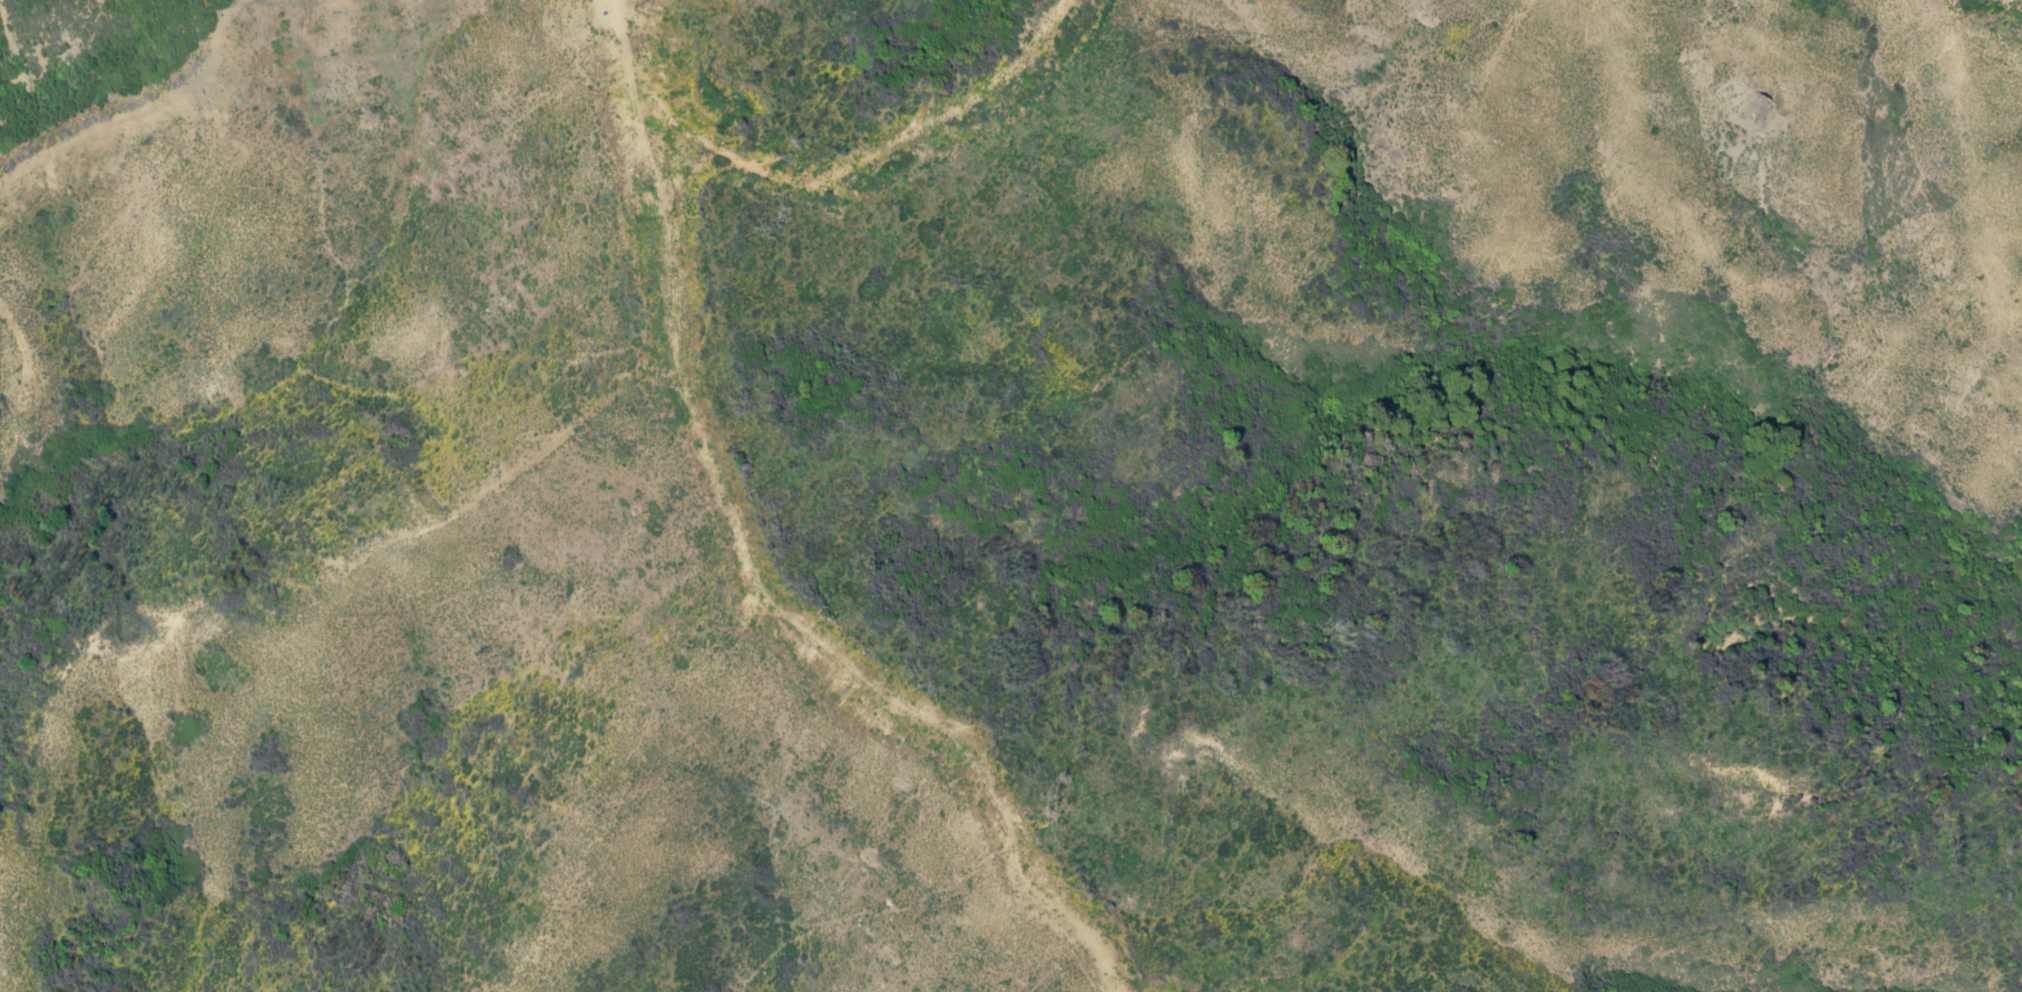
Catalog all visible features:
road: (19, 344)
road: (752, 567)

